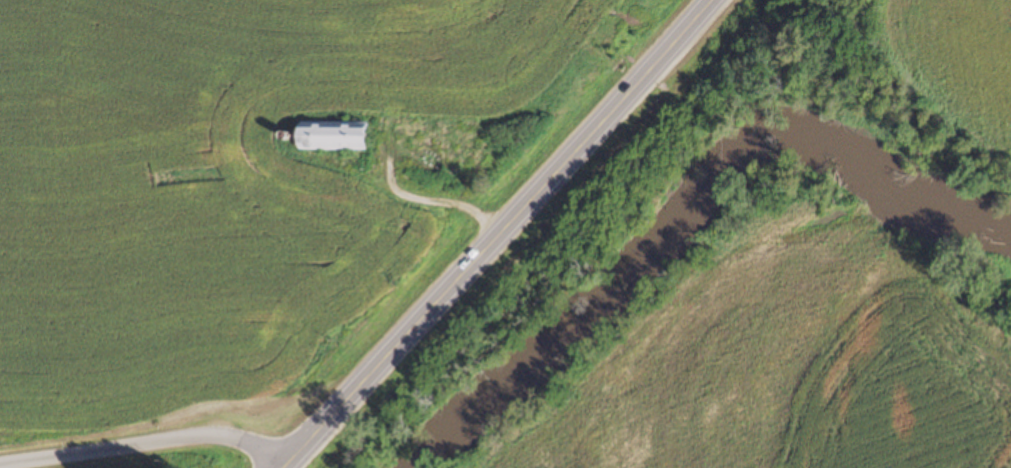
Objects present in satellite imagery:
building: (328, 136)
building: (468, 154)
river: (686, 204)
road: (497, 234)
road: (146, 443)

